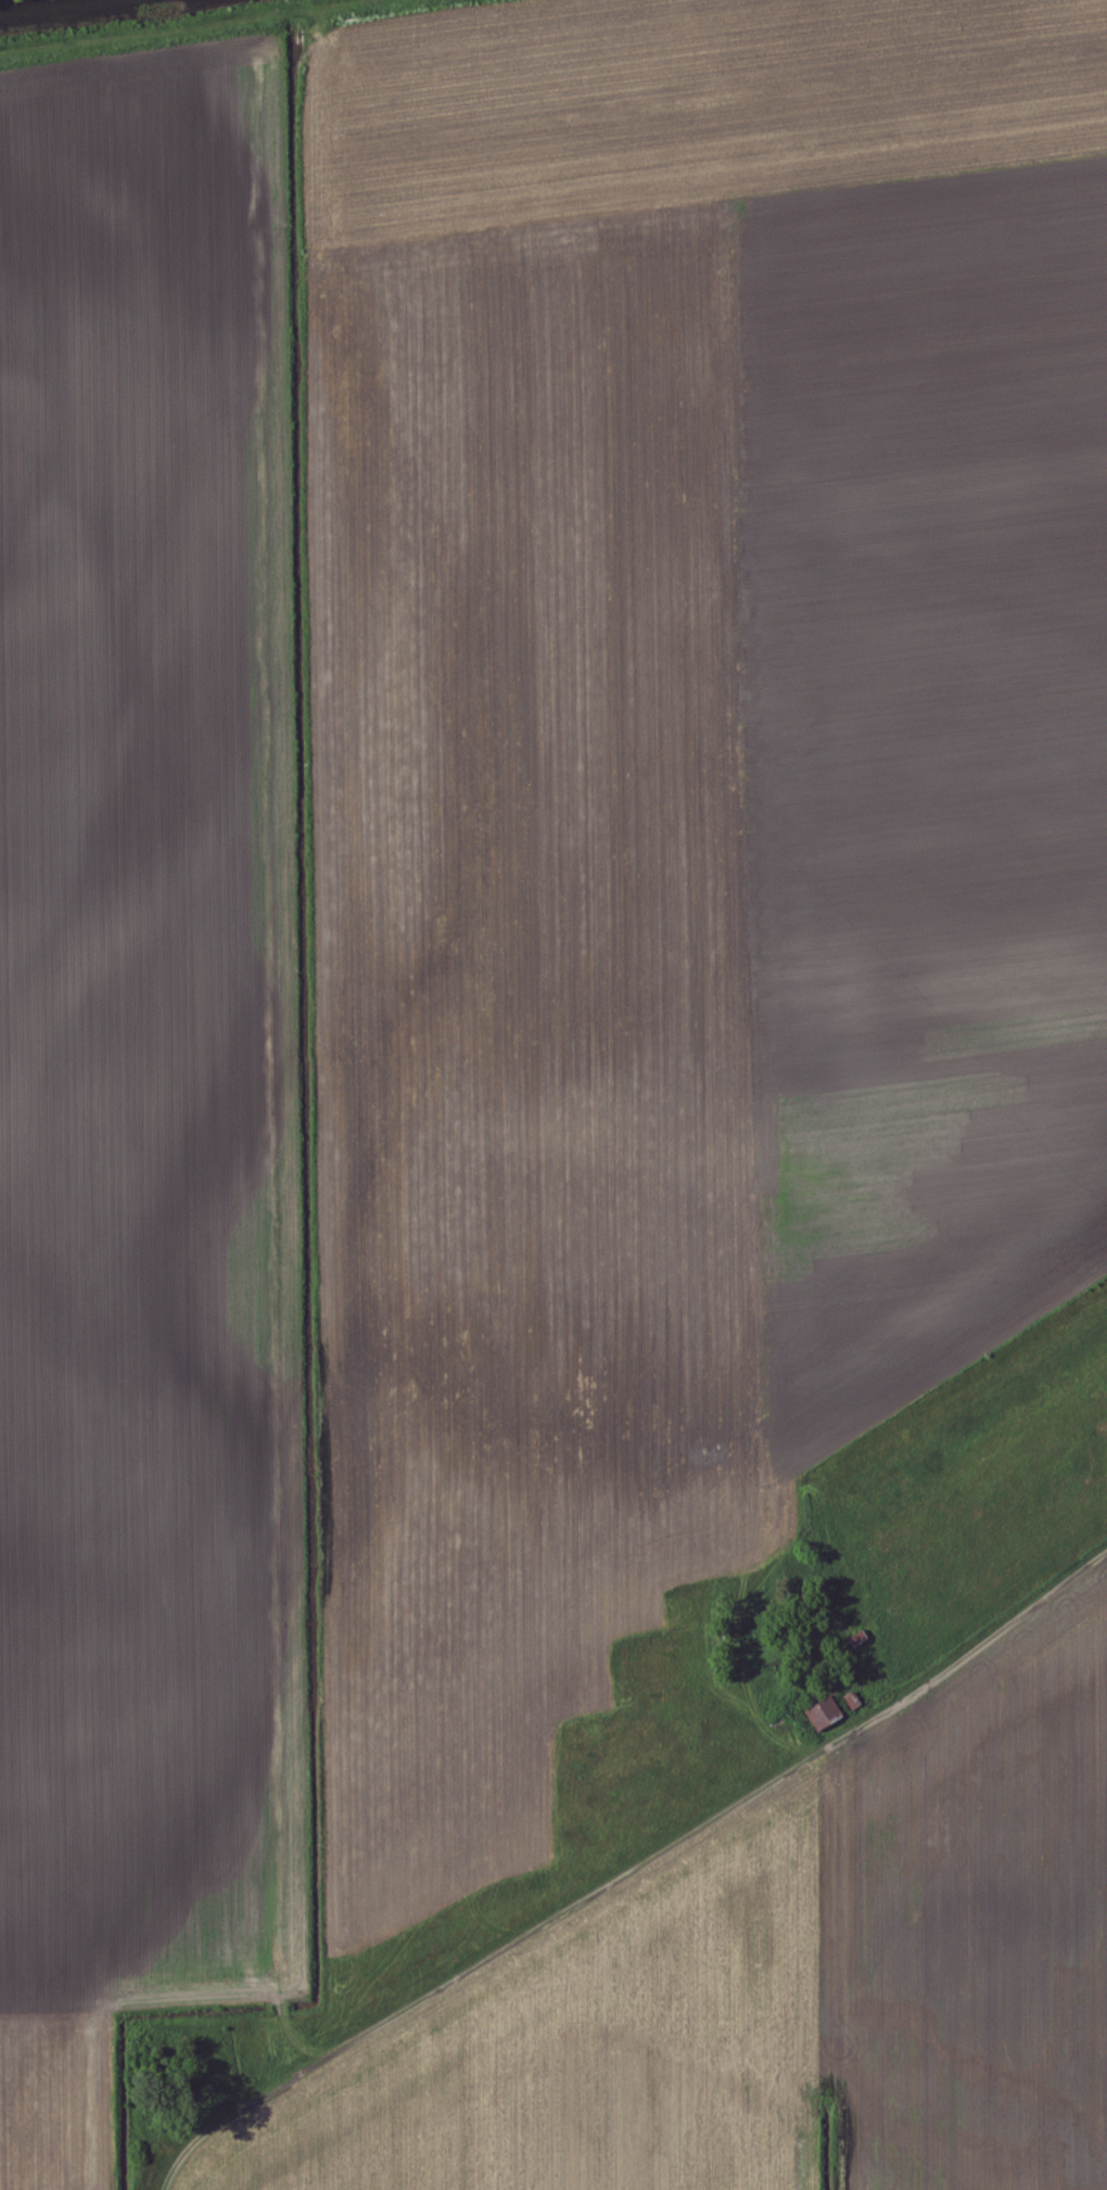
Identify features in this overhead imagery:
building: (825, 1714)
road: (624, 1856)

